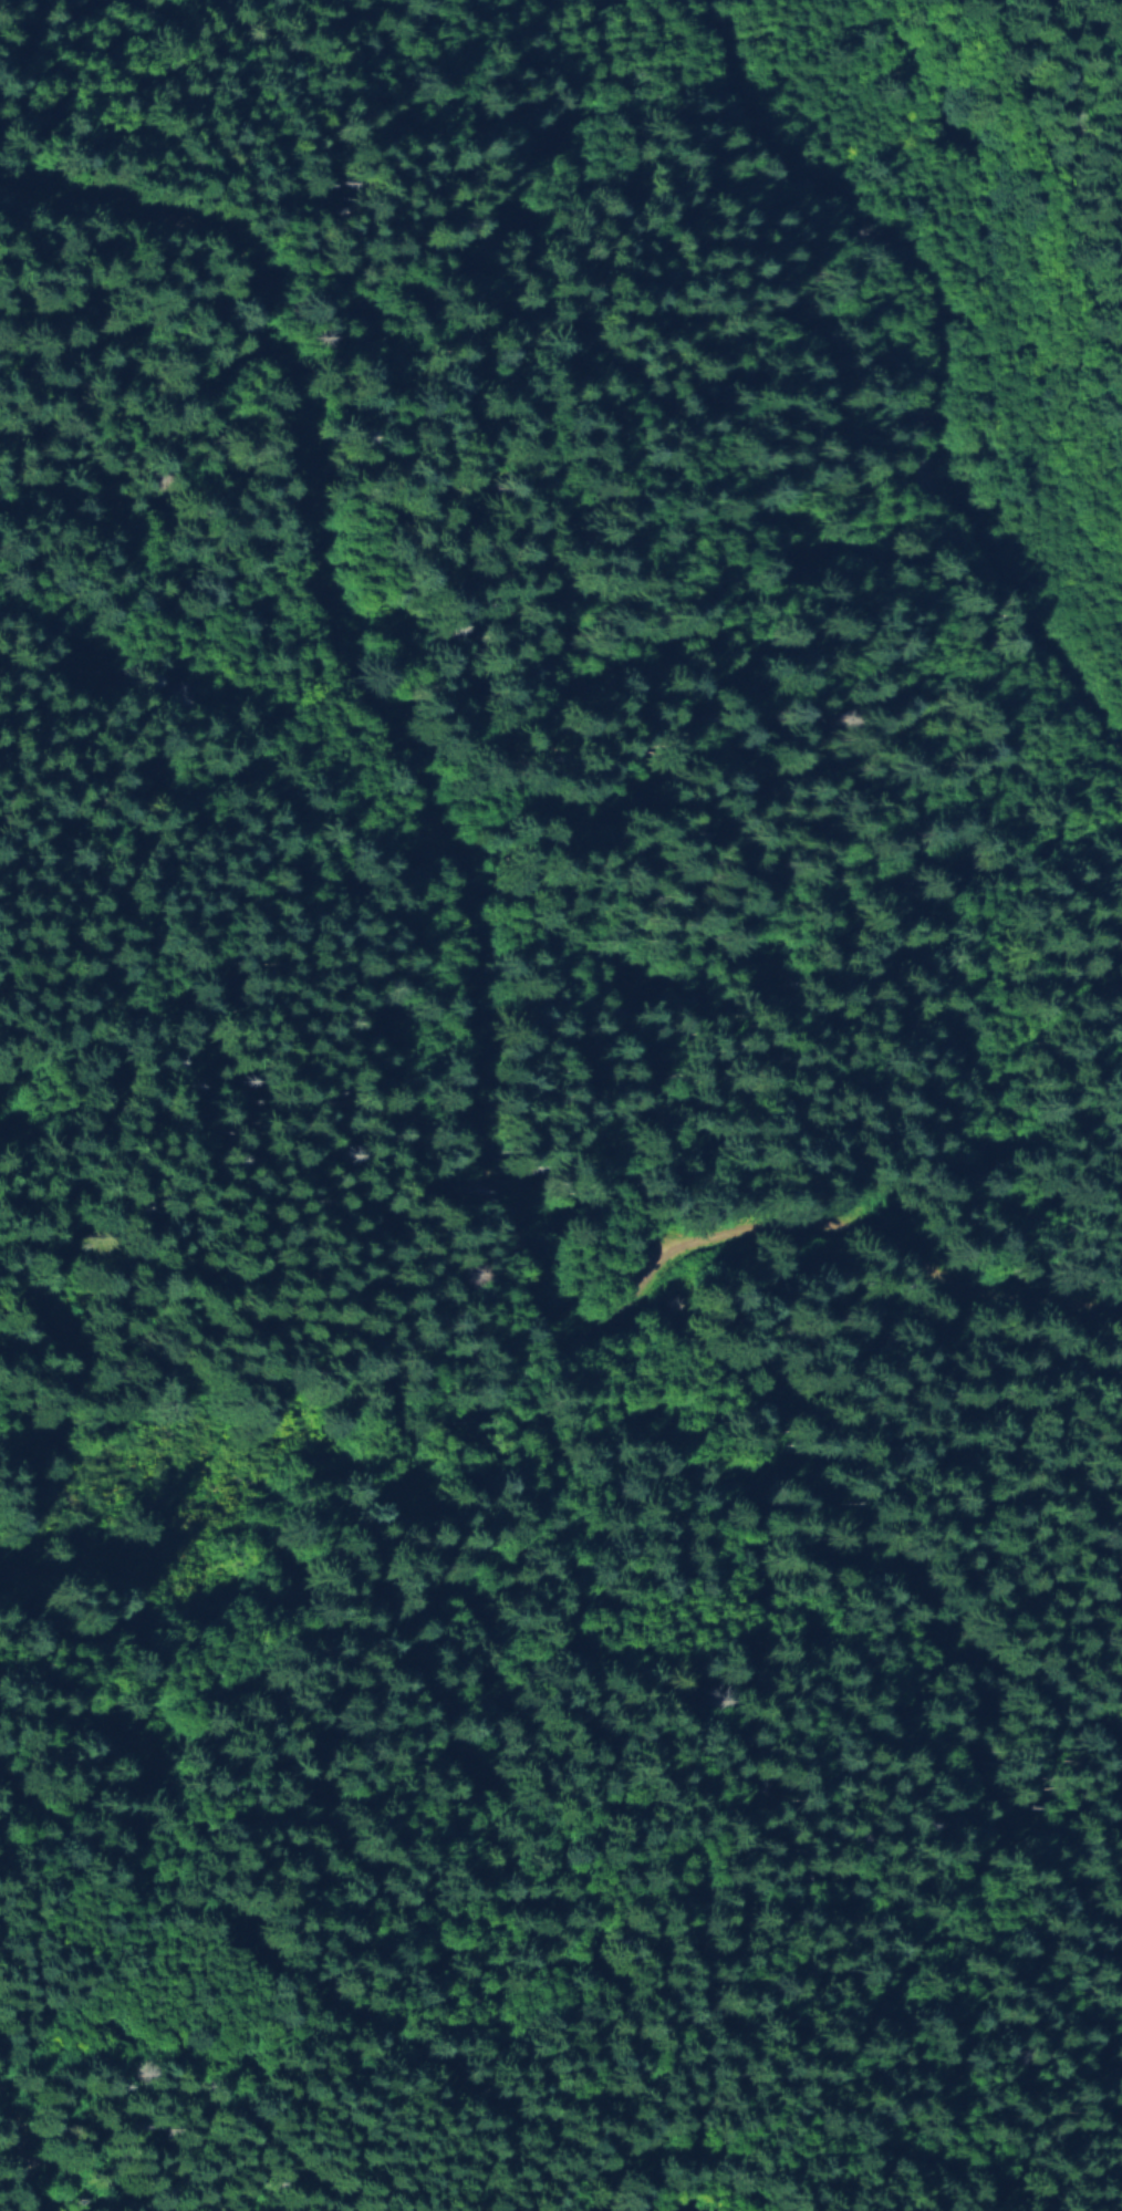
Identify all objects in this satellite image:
road: (926, 345)
road: (464, 916)

